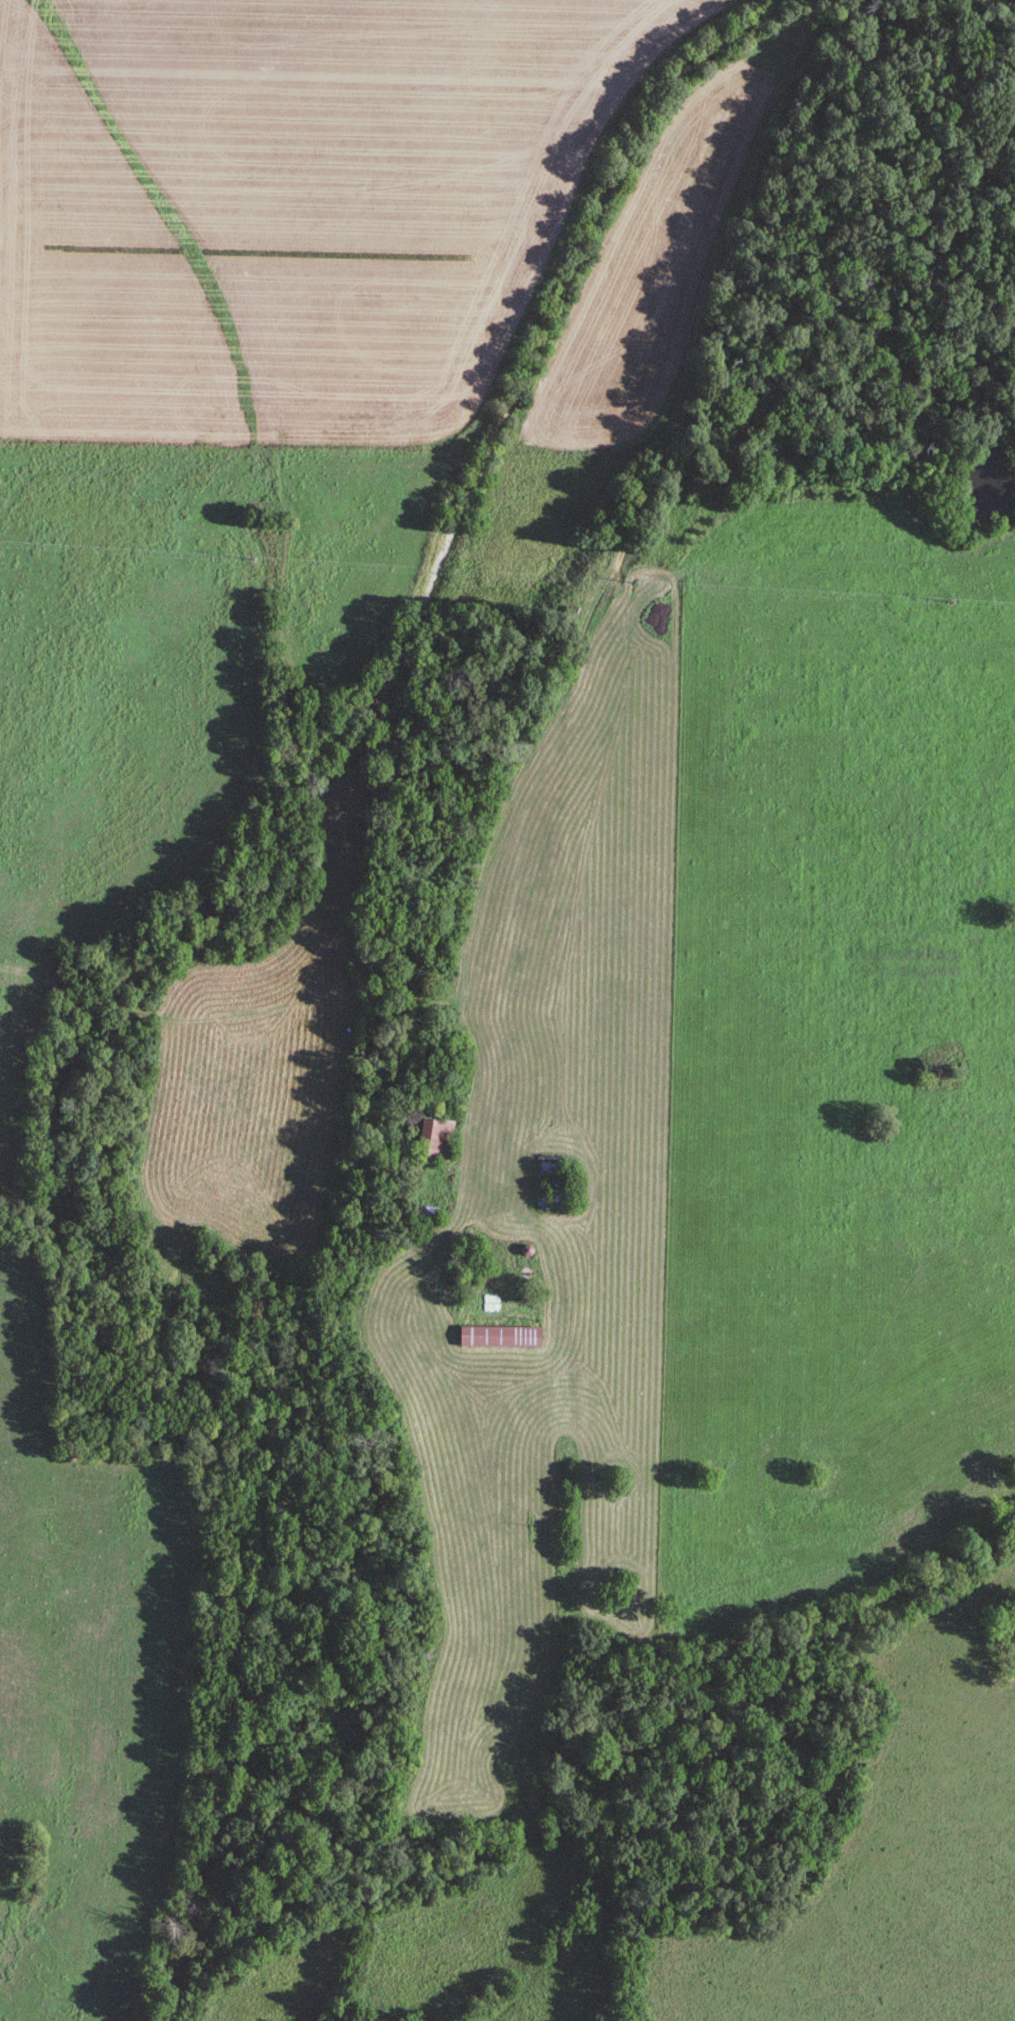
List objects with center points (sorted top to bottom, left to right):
road: (606, 579)
building: (555, 1185)
building: (432, 1212)
building: (500, 1334)

